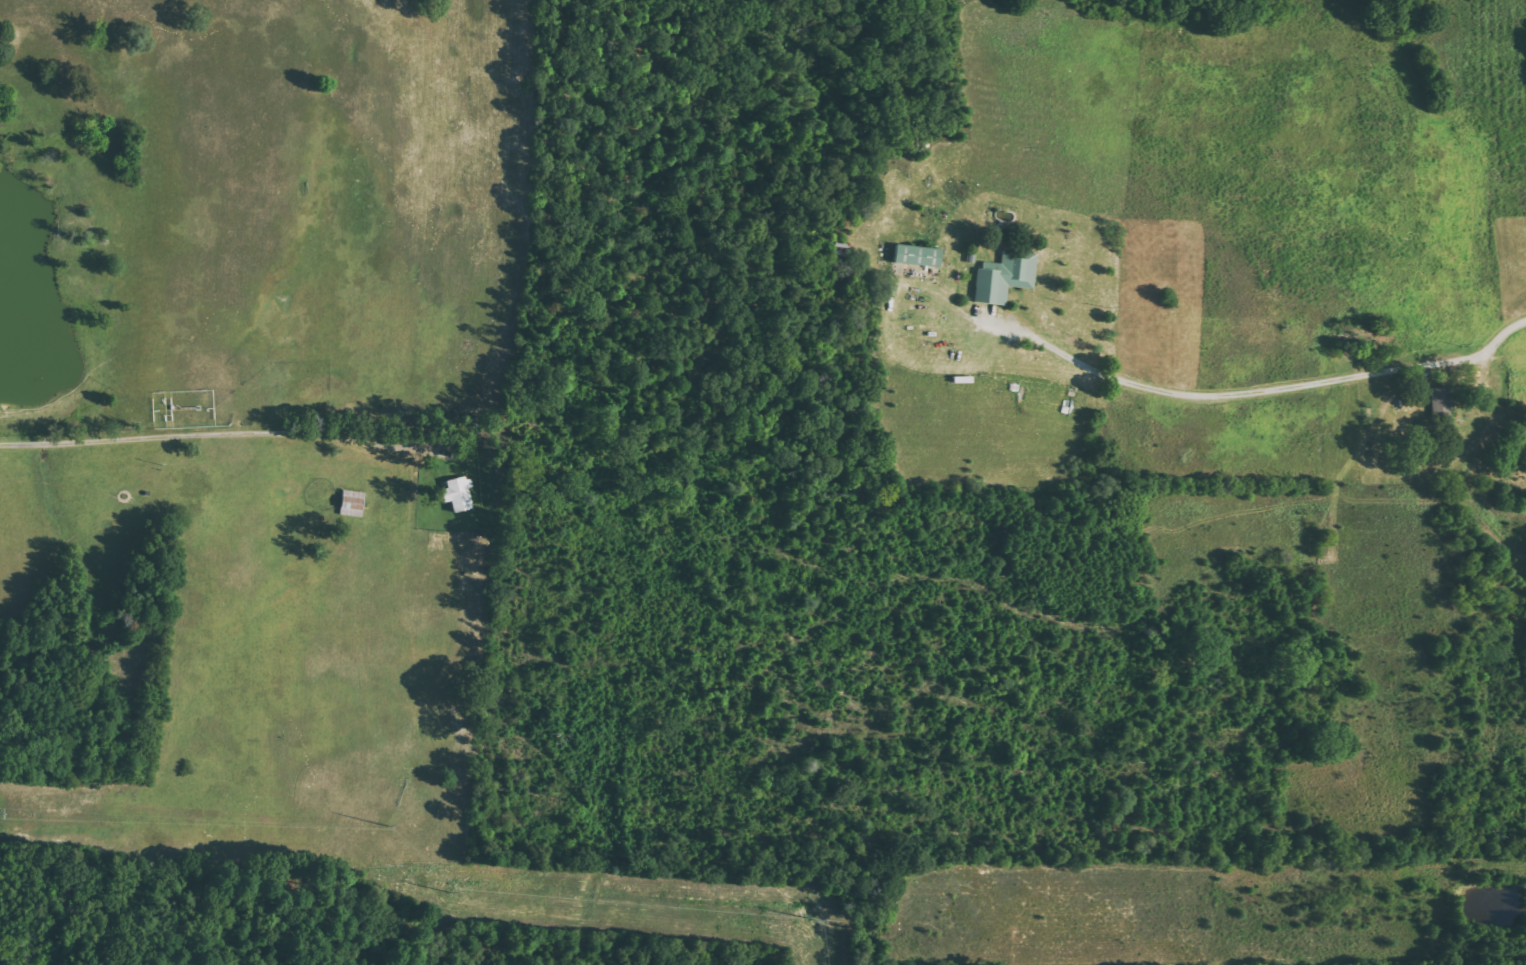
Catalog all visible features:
building: (914, 255)
building: (1004, 276)
road: (1511, 391)
building: (1437, 400)
building: (455, 494)
building: (351, 503)

